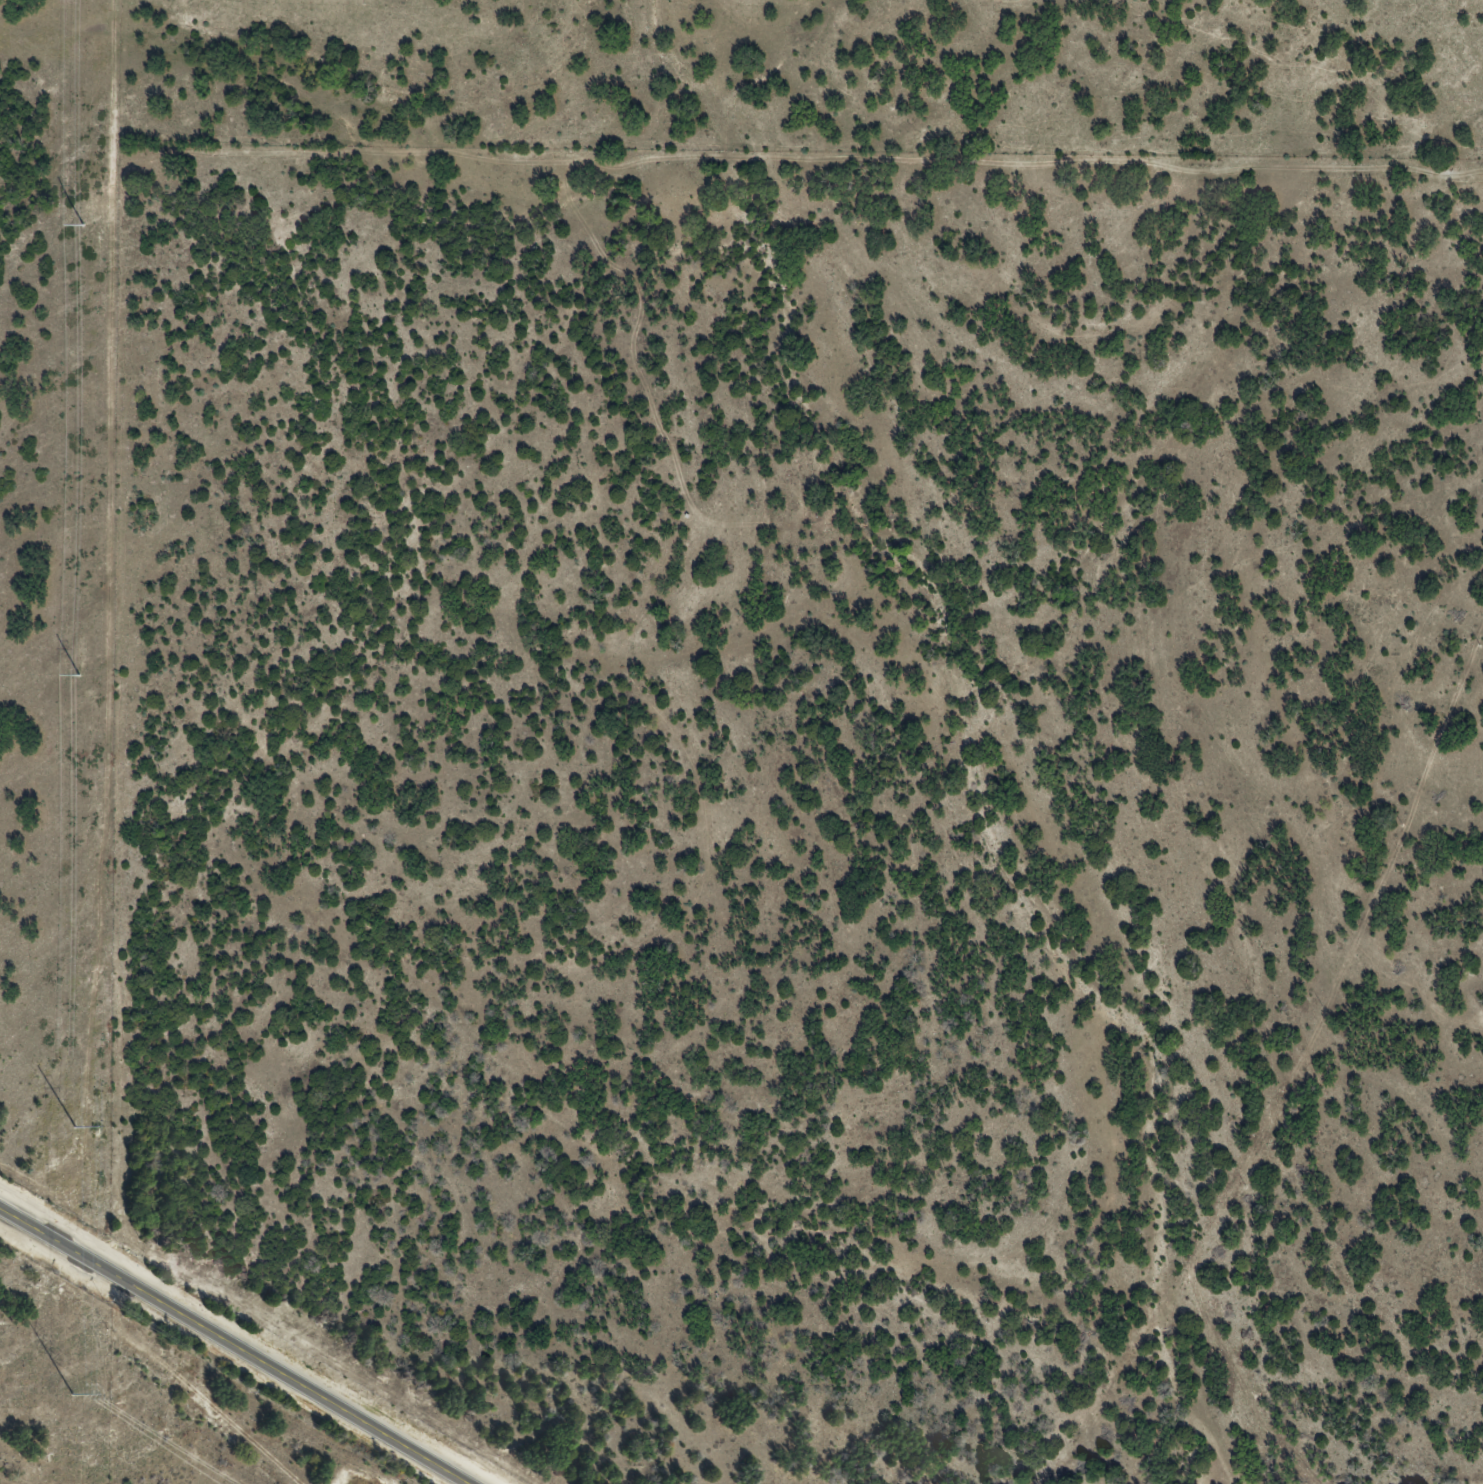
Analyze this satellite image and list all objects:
power tower: (80, 225)
power tower: (76, 677)
power tower: (66, 1132)
road: (235, 1346)
power tower: (71, 1395)

